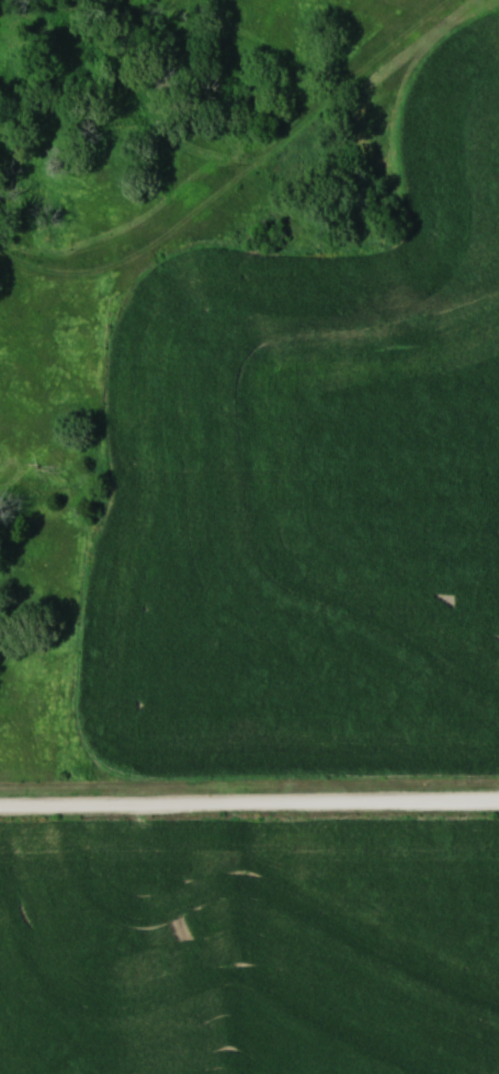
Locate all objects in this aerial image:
road: (249, 807)

